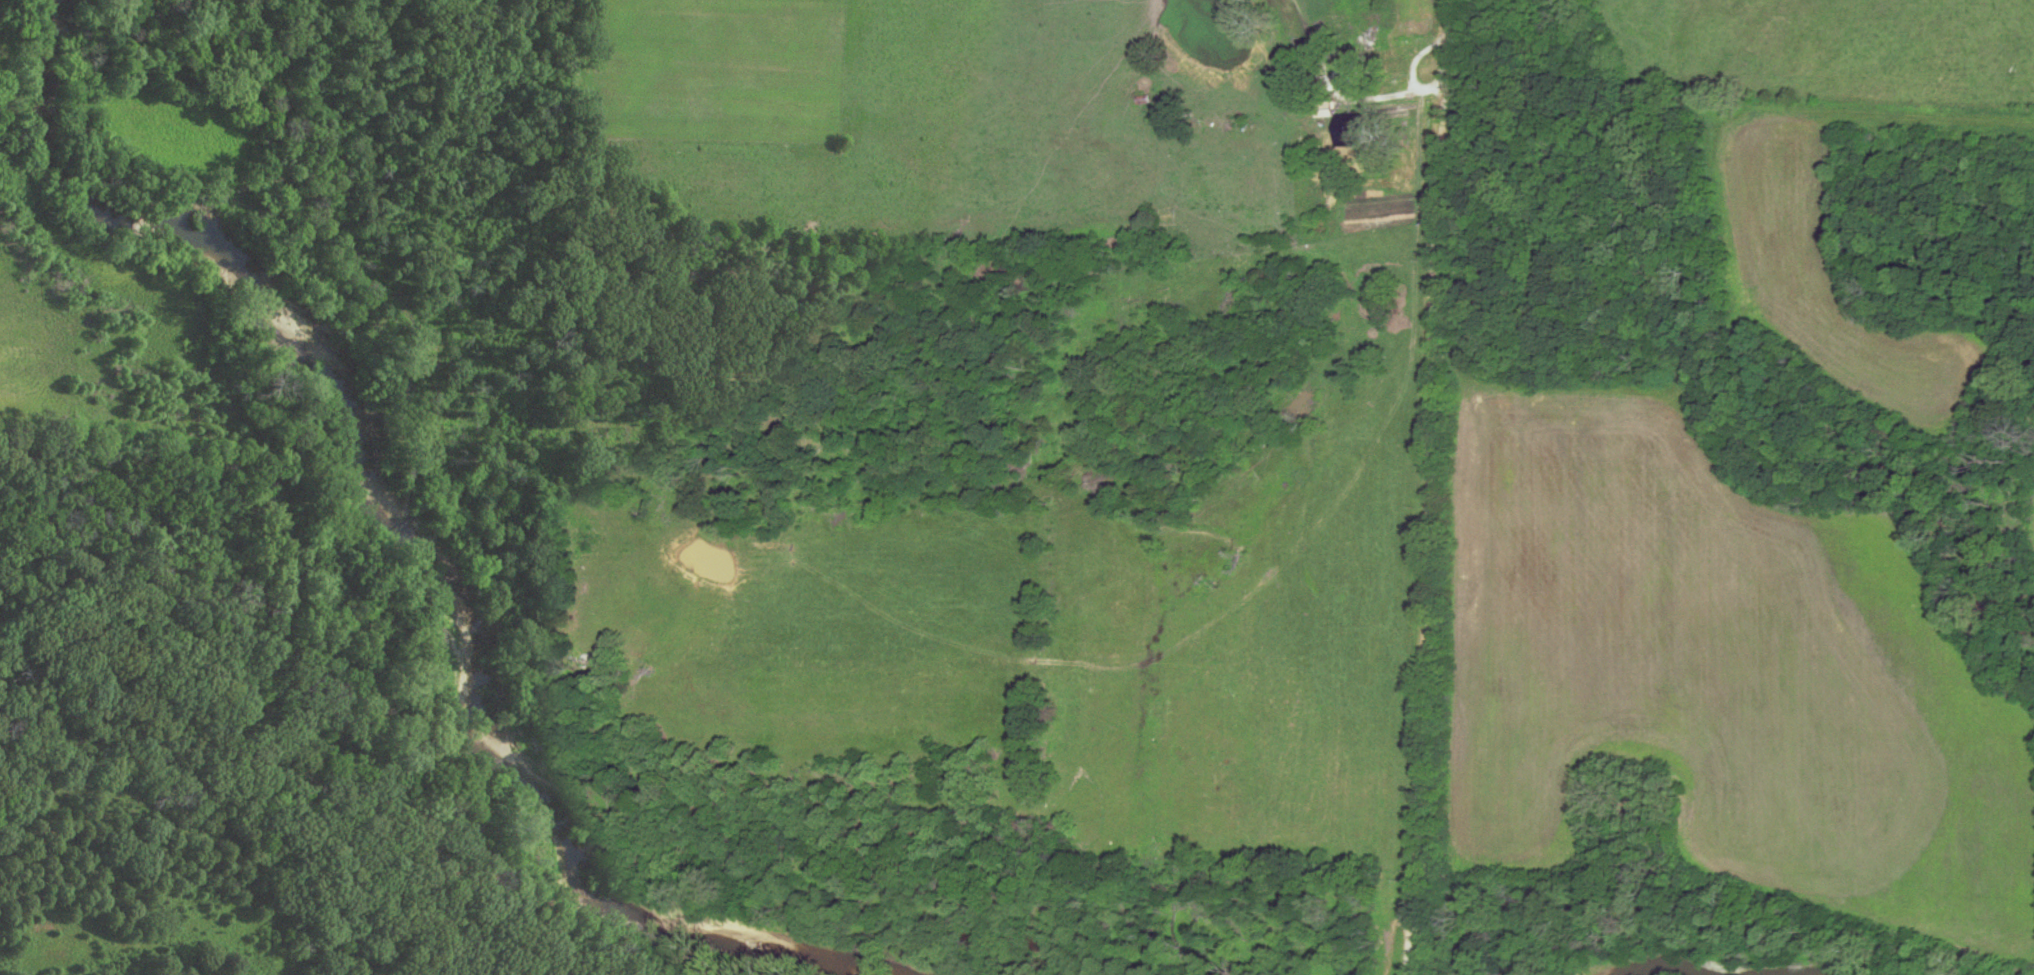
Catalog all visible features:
building: (1343, 93)
building: (1146, 104)
road: (1429, 487)

